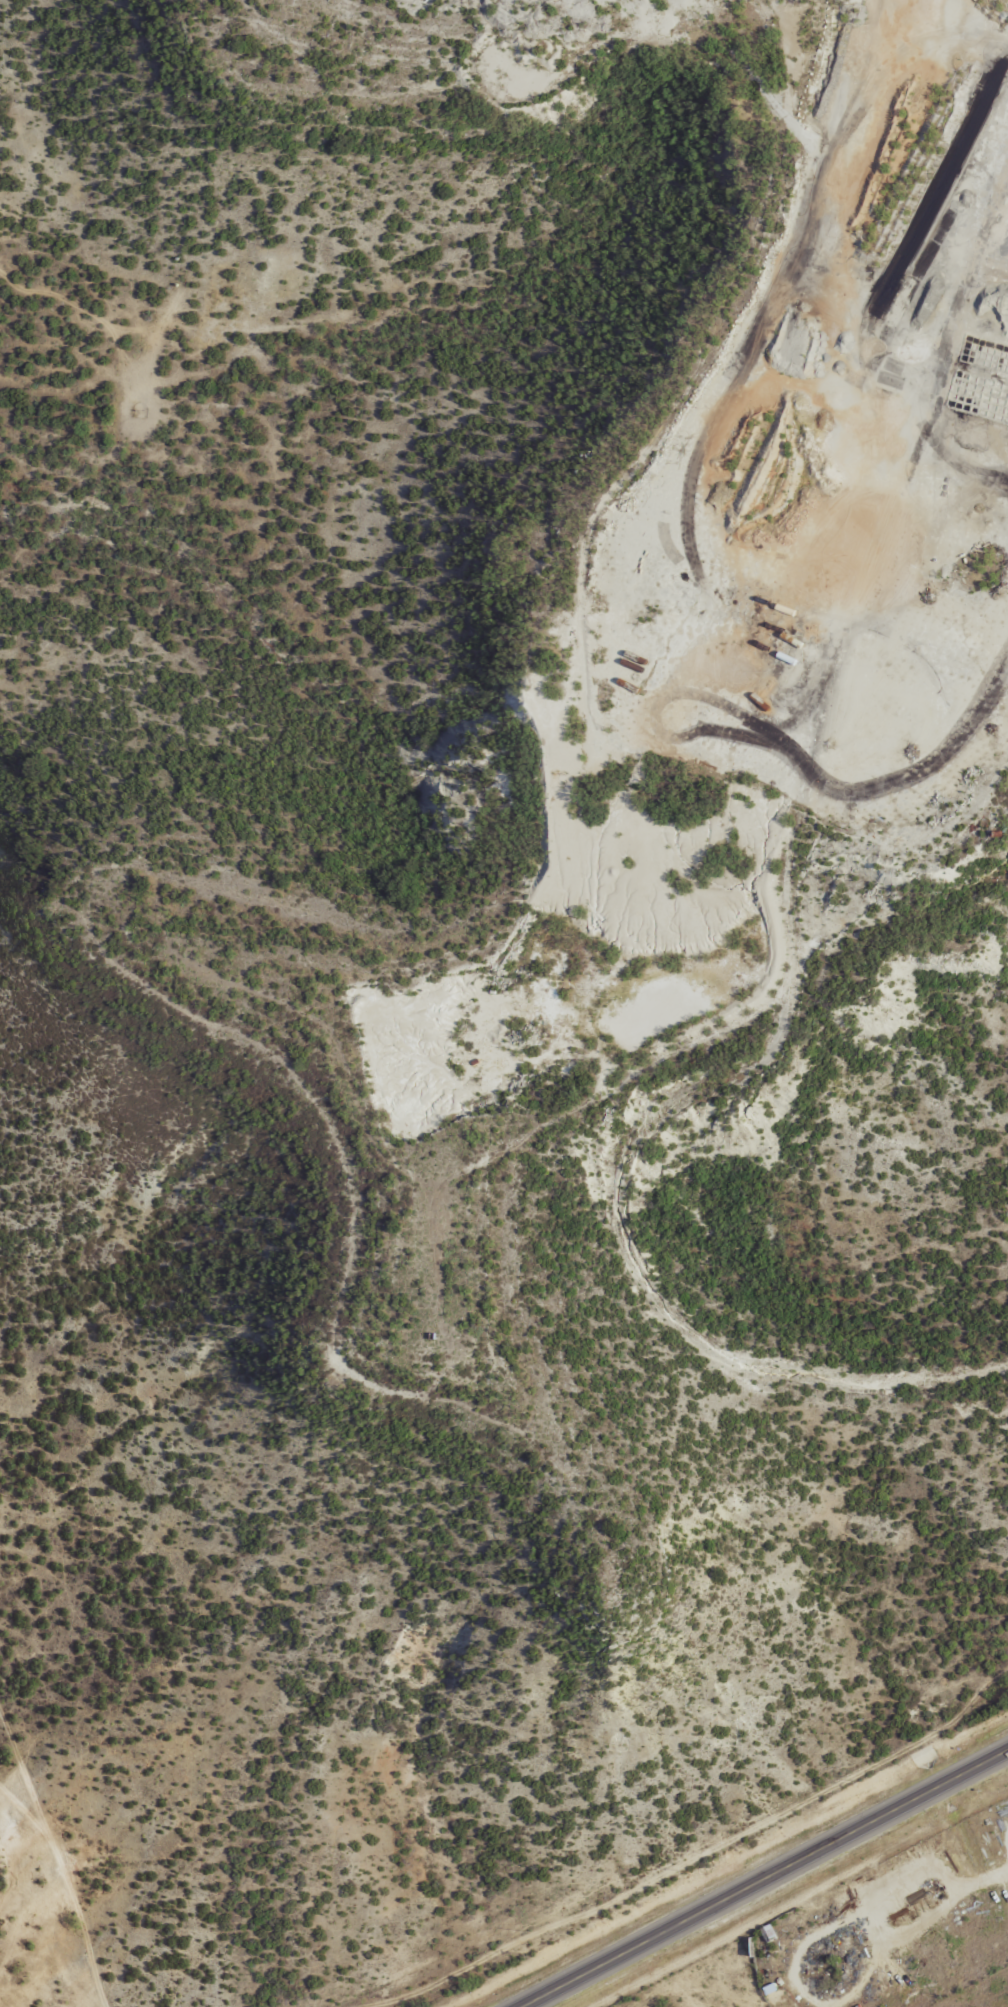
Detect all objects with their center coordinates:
road: (762, 1876)
road: (54, 1915)
building: (770, 1988)

